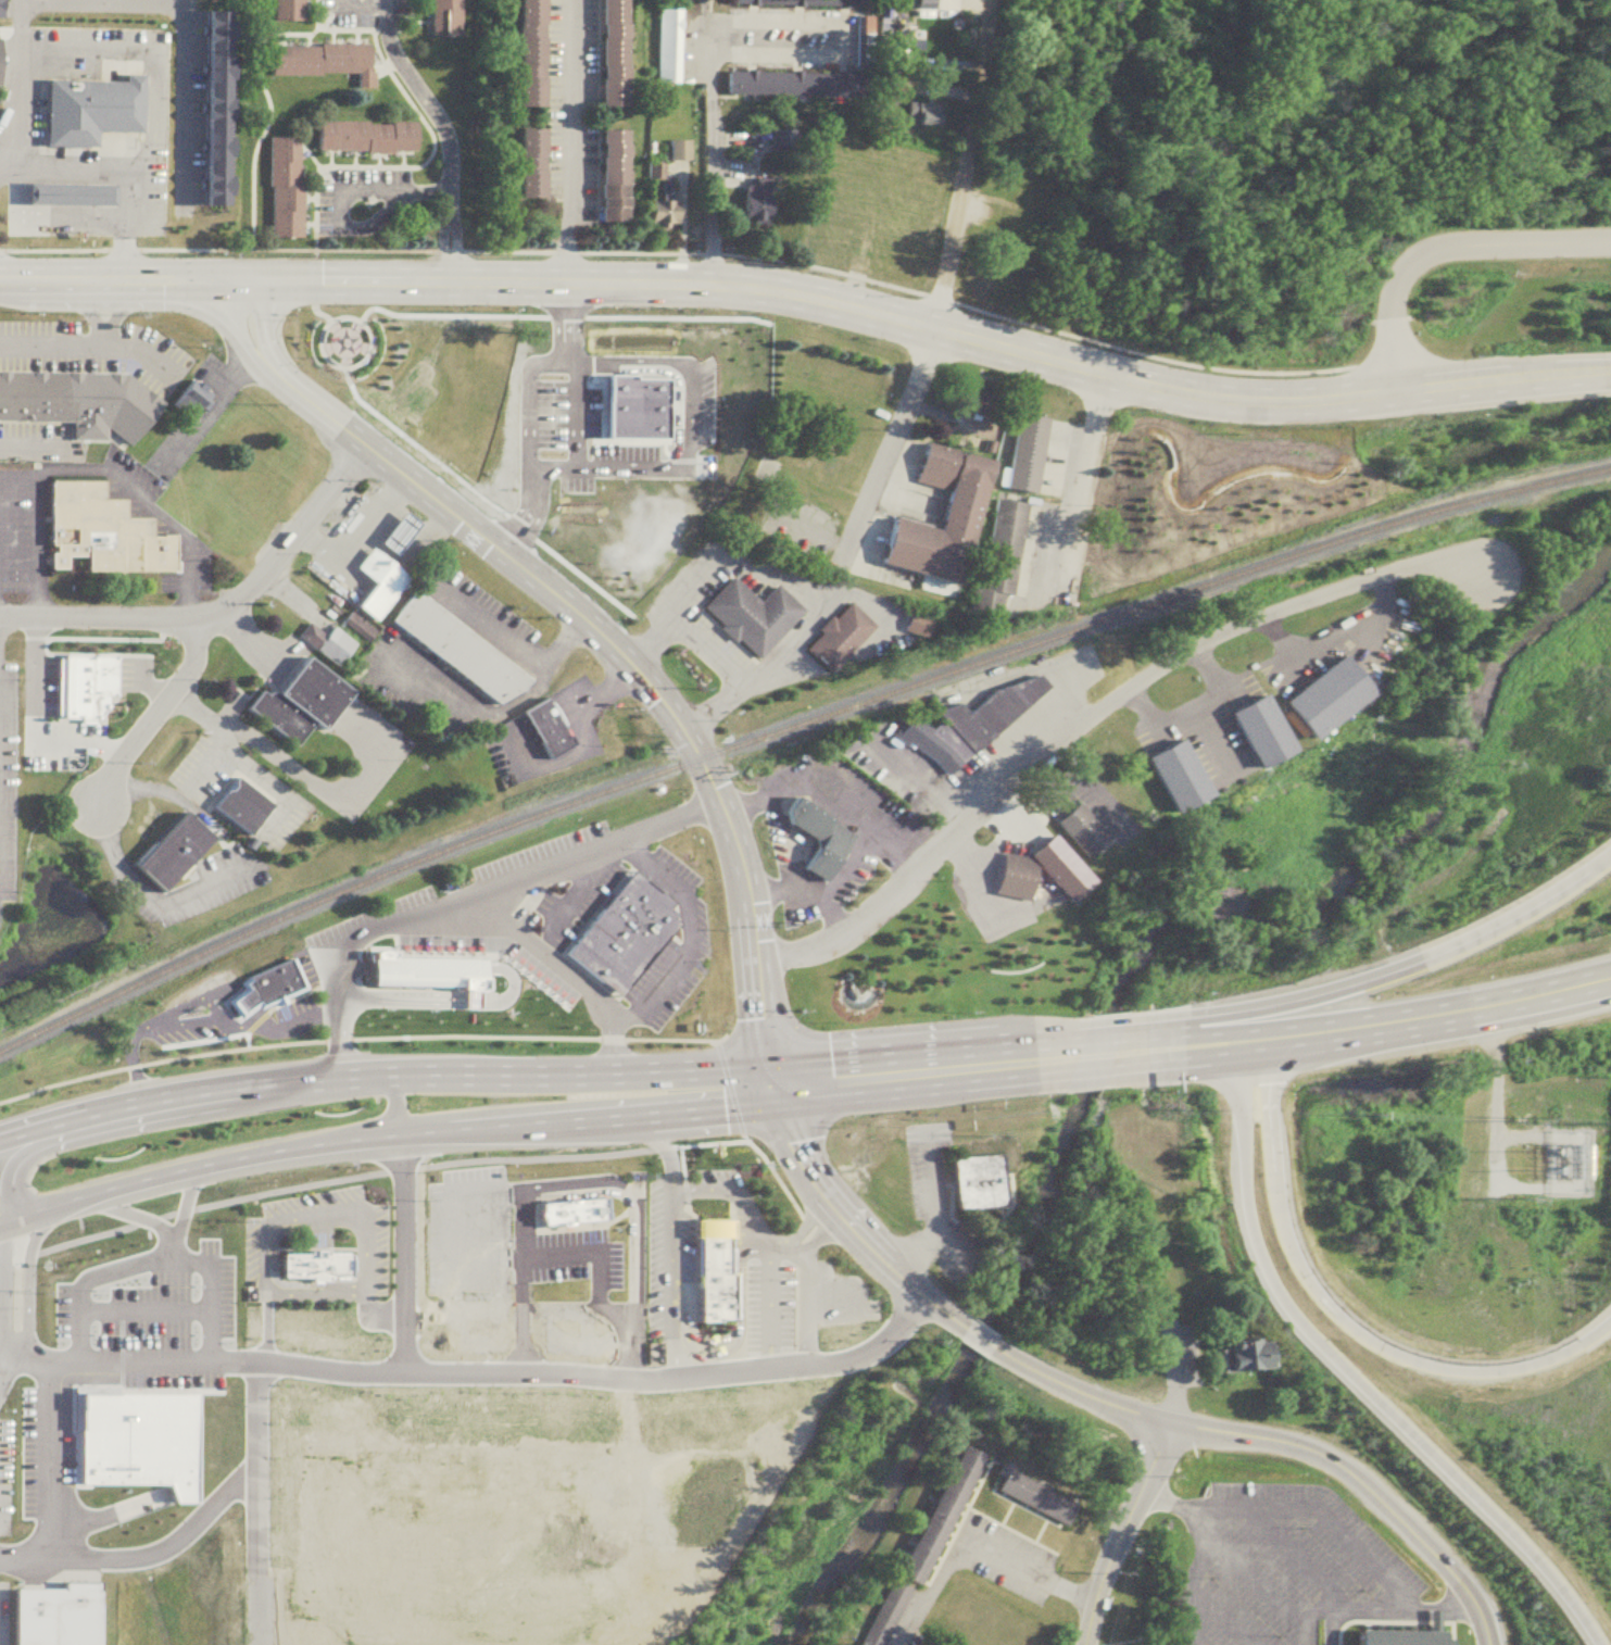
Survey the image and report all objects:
road: (78, 1)
building: (802, 1)
river: (1609, 1)
road: (174, 2)
building: (284, 10)
road: (361, 10)
parking lot: (362, 11)
building: (441, 17)
road: (418, 18)
road: (329, 27)
road: (405, 27)
road: (327, 34)
road: (355, 34)
parking lot: (791, 36)
road: (846, 37)
building: (668, 41)
building: (528, 53)
building: (608, 55)
building: (316, 58)
building: (1, 63)
building: (790, 79)
road: (15, 88)
road: (183, 97)
building: (214, 103)
parking lot: (567, 104)
road: (570, 104)
parking lot: (184, 105)
building: (96, 109)
road: (428, 111)
road: (268, 115)
building: (920, 115)
parking lot: (84, 127)
building: (366, 133)
road: (710, 153)
road: (309, 155)
road: (330, 156)
road: (355, 156)
road: (379, 156)
road: (403, 156)
road: (86, 162)
road: (402, 164)
building: (909, 165)
road: (967, 166)
building: (526, 169)
building: (653, 172)
road: (150, 174)
building: (608, 176)
building: (285, 183)
road: (335, 187)
building: (74, 193)
road: (307, 196)
parking lot: (362, 197)
building: (751, 203)
building: (914, 205)
building: (658, 213)
building: (1002, 215)
road: (307, 222)
road: (568, 246)
building: (825, 246)
road: (442, 250)
road: (454, 250)
road: (126, 251)
road: (1443, 252)
road: (702, 254)
road: (312, 276)
traffic signals: (235, 281)
road: (676, 288)
road: (116, 304)
road: (93, 310)
road: (319, 312)
road: (364, 312)
road: (91, 342)
building: (548, 342)
building: (595, 346)
building: (688, 346)
building: (637, 348)
building: (343, 352)
building: (435, 353)
parking lot: (96, 355)
building: (742, 355)
park: (389, 357)
road: (352, 363)
road: (1561, 369)
road: (357, 384)
road: (1464, 384)
parking lot: (411, 388)
road: (1514, 389)
building: (191, 394)
road: (1379, 395)
building: (456, 399)
road: (520, 402)
building: (967, 402)
building: (76, 405)
road: (215, 407)
building: (632, 409)
parking lot: (193, 422)
building: (735, 424)
parking lot: (36, 442)
road: (29, 443)
road: (890, 449)
building: (1024, 454)
road: (70, 477)
building: (1151, 477)
railway: (1540, 485)
building: (1317, 488)
road: (389, 490)
road: (1084, 490)
road: (343, 497)
building: (1262, 506)
building: (571, 508)
road: (361, 511)
building: (1199, 511)
parking lot: (146, 512)
building: (942, 515)
road: (38, 516)
road: (159, 518)
parking lot: (1057, 524)
parking lot: (23, 532)
building: (102, 533)
road: (295, 533)
building: (393, 533)
road: (307, 540)
road: (348, 541)
parking lot: (348, 549)
building: (1000, 555)
building: (1150, 558)
building: (1125, 578)
road: (1384, 583)
building: (374, 585)
road: (282, 591)
road: (187, 603)
road: (38, 605)
road: (864, 605)
parking lot: (474, 614)
building: (746, 615)
road: (108, 618)
building: (918, 618)
road: (476, 619)
road: (814, 619)
parking lot: (880, 619)
parking lot: (683, 623)
building: (354, 627)
road: (593, 627)
road: (1274, 628)
road: (682, 631)
road: (92, 636)
road: (645, 636)
road: (38, 639)
building: (835, 640)
road: (252, 641)
building: (324, 643)
building: (452, 649)
road: (554, 652)
road: (1209, 657)
parking lot: (134, 670)
road: (143, 670)
road: (433, 680)
road: (614, 682)
road: (1067, 683)
building: (85, 687)
parking lot: (418, 688)
road: (159, 689)
building: (1322, 694)
road: (1137, 696)
building: (294, 702)
road: (515, 702)
road: (707, 704)
road: (1093, 704)
road: (164, 714)
road: (201, 718)
parking lot: (49, 719)
building: (967, 721)
road: (38, 724)
building: (541, 728)
parking lot: (508, 729)
building: (1257, 733)
road: (114, 742)
parking lot: (1004, 742)
road: (1003, 750)
railway: (726, 751)
road: (568, 755)
road: (228, 756)
parking lot: (364, 757)
road: (273, 758)
road: (202, 769)
parking lot: (204, 770)
road: (1037, 775)
road: (355, 776)
building: (1175, 776)
road: (915, 777)
road: (259, 779)
parking lot: (8, 782)
road: (148, 792)
road: (1090, 792)
parking lot: (1080, 796)
road: (744, 798)
building: (237, 806)
road: (991, 813)
road: (279, 814)
parking lot: (277, 821)
road: (664, 825)
building: (1081, 829)
building: (817, 838)
road: (106, 839)
parking lot: (791, 846)
road: (959, 847)
building: (166, 853)
road: (854, 862)
parking lot: (973, 871)
road: (536, 872)
building: (1040, 872)
road: (970, 886)
parking lot: (190, 889)
road: (579, 889)
road: (770, 890)
road: (183, 894)
road: (828, 908)
road: (688, 916)
road: (398, 921)
parking lot: (388, 924)
building: (619, 934)
parking lot: (682, 941)
river: (1141, 953)
building: (1046, 960)
building: (432, 970)
road: (433, 970)
building: (458, 970)
road: (335, 974)
road: (356, 974)
road: (1375, 975)
road: (566, 981)
building: (267, 983)
building: (906, 984)
road: (1547, 994)
fountain: (853, 996)
road: (445, 1005)
parking lot: (230, 1014)
road: (626, 1016)
road: (249, 1020)
road: (1380, 1024)
road: (424, 1034)
road: (137, 1037)
road: (1258, 1040)
road: (340, 1043)
road: (1180, 1048)
road: (1116, 1055)
road: (1092, 1058)
road: (921, 1073)
road: (65, 1079)
road: (331, 1082)
road: (138, 1084)
traffic signals: (772, 1088)
road: (728, 1089)
road: (720, 1092)
road: (1495, 1094)
road: (154, 1122)
road: (356, 1131)
road: (643, 1133)
road: (330, 1144)
road: (628, 1147)
power substation: (1568, 1163)
building: (971, 1182)
road: (780, 1183)
parking lot: (473, 1188)
road: (549, 1197)
parking lot: (933, 1198)
road: (932, 1200)
road: (477, 1206)
road: (670, 1207)
road: (185, 1210)
building: (569, 1213)
road: (318, 1216)
road: (136, 1218)
road: (851, 1225)
road: (819, 1226)
parking lot: (322, 1235)
parking lot: (676, 1240)
road: (757, 1244)
road: (913, 1251)
road: (403, 1253)
road: (766, 1257)
road: (606, 1259)
building: (310, 1267)
park: (1153, 1267)
building: (708, 1270)
road: (272, 1274)
parking lot: (481, 1274)
road: (29, 1279)
road: (93, 1281)
parking lot: (568, 1295)
road: (317, 1297)
road: (567, 1297)
parking lot: (839, 1298)
building: (129, 1304)
road: (802, 1304)
road: (2, 1309)
road: (187, 1309)
parking lot: (767, 1311)
road: (767, 1311)
road: (376, 1318)
road: (1341, 1320)
road: (631, 1324)
road: (734, 1327)
road: (267, 1330)
road: (668, 1331)
road: (468, 1332)
road: (211, 1335)
road: (576, 1335)
road: (709, 1338)
road: (977, 1343)
road: (1211, 1346)
road: (871, 1348)
parking lot: (127, 1352)
parking lot: (1186, 1353)
road: (1195, 1356)
building: (1241, 1357)
road: (632, 1358)
road: (1178, 1359)
road: (135, 1361)
road: (767, 1363)
road: (536, 1373)
road: (1347, 1373)
road: (259, 1411)
road: (1274, 1443)
road: (43, 1459)
parking lot: (5, 1476)
building: (1034, 1495)
road: (1175, 1507)
building: (934, 1514)
road: (1127, 1530)
building: (490, 1533)
road: (952, 1552)
road: (259, 1553)
parking lot: (1002, 1554)
road: (149, 1557)
parking lot: (1286, 1568)
road: (1197, 1581)
road: (1393, 1582)
road: (1070, 1586)
road: (1274, 1604)
road: (1435, 1612)
building: (884, 1615)
parking lot: (4, 1616)
building: (53, 1617)
road: (1367, 1618)
road: (1327, 1621)
road: (1223, 1622)
road: (1450, 1624)
road: (1310, 1629)
building: (1402, 1634)

